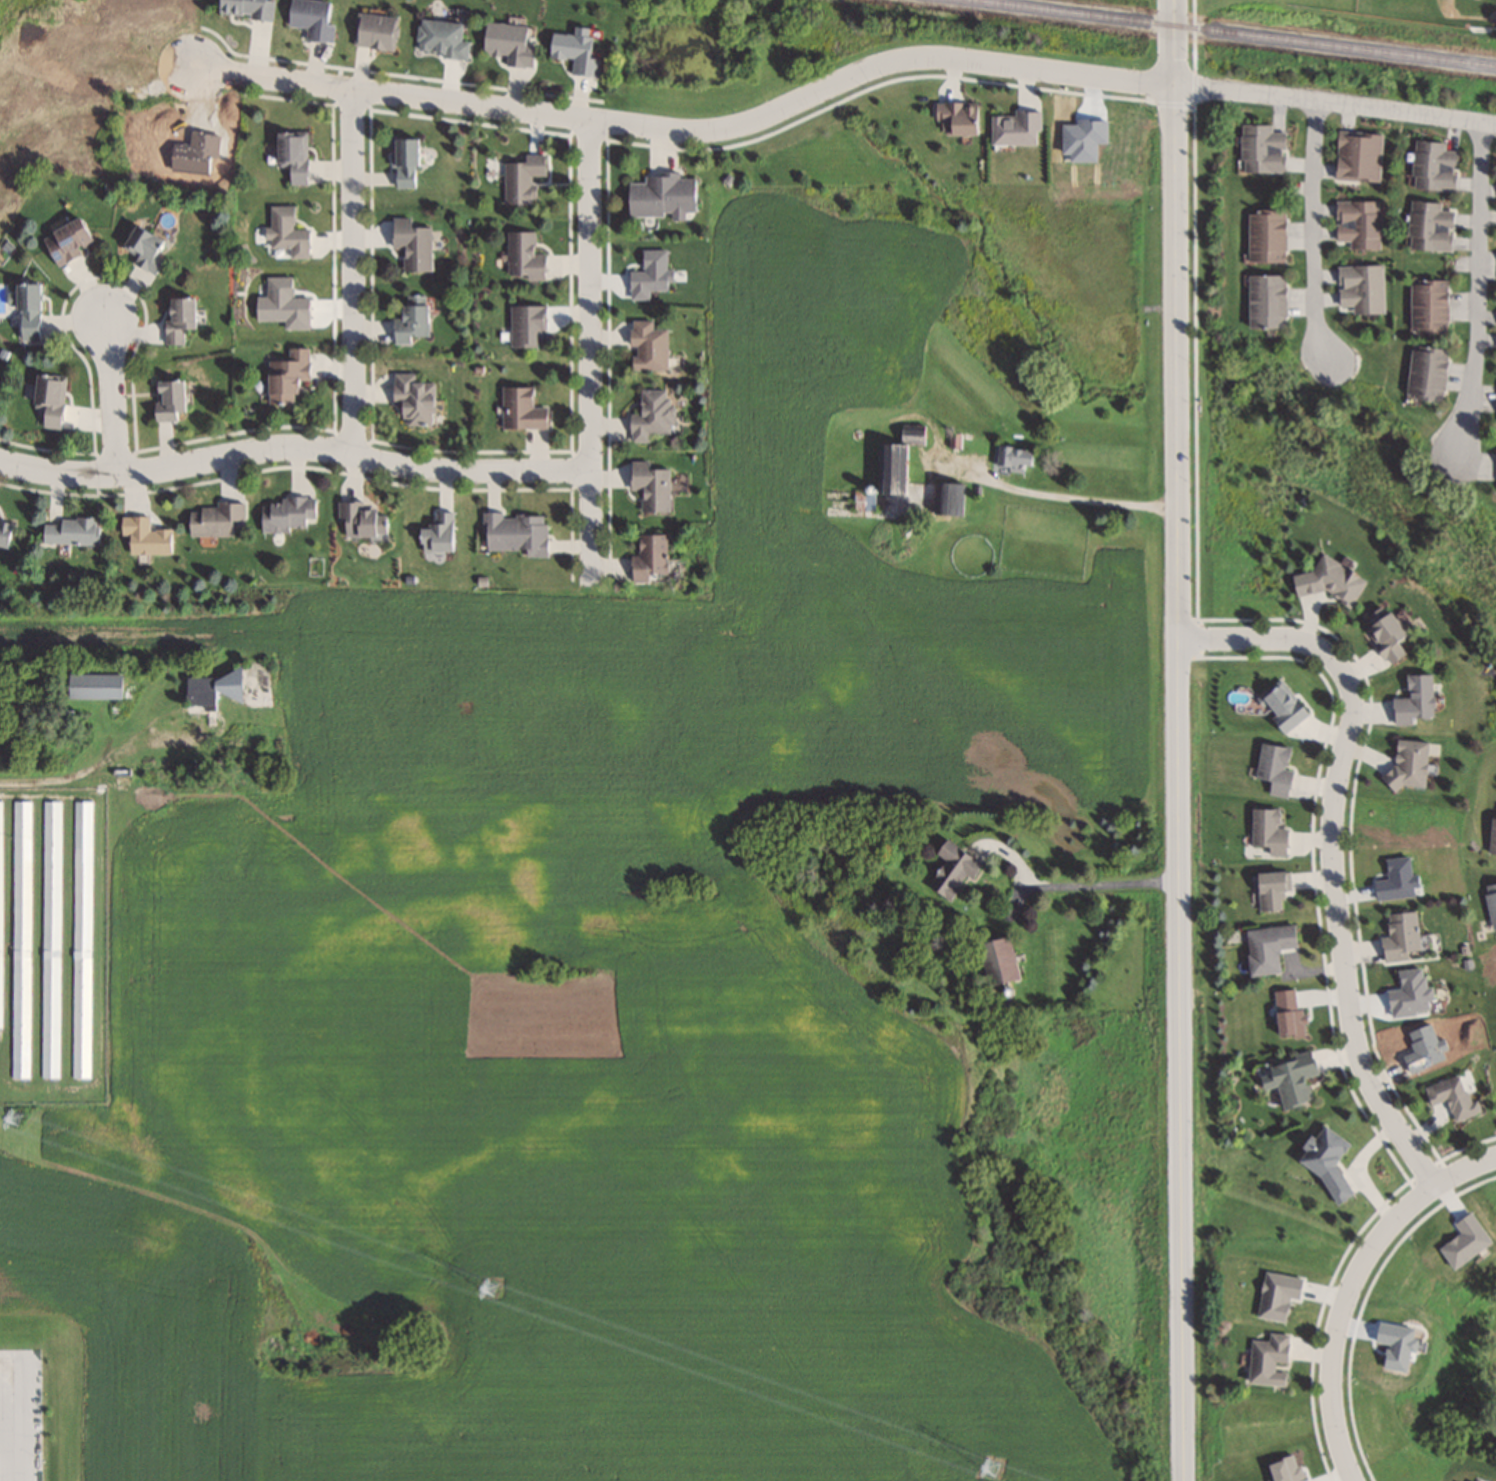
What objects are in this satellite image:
building: (243, 8)
park: (1403, 11)
park: (1434, 11)
building: (310, 18)
building: (373, 32)
building: (439, 39)
building: (507, 43)
building: (574, 50)
road: (1335, 102)
building: (952, 117)
building: (1012, 127)
road: (691, 130)
building: (1260, 148)
building: (290, 155)
building: (1356, 155)
building: (402, 162)
building: (1432, 165)
building: (521, 177)
building: (659, 196)
building: (1357, 224)
building: (1428, 225)
building: (284, 231)
road: (1314, 231)
building: (1264, 235)
building: (63, 239)
building: (409, 243)
building: (142, 248)
building: (521, 255)
road: (353, 270)
road: (1478, 286)
building: (1359, 288)
building: (1265, 301)
building: (1427, 306)
building: (26, 310)
building: (176, 318)
building: (411, 318)
building: (525, 325)
building: (645, 345)
road: (591, 355)
building: (1425, 372)
building: (283, 375)
building: (46, 398)
building: (166, 398)
road: (111, 399)
building: (411, 399)
building: (520, 409)
building: (649, 415)
road: (293, 447)
building: (1009, 459)
building: (886, 467)
building: (648, 485)
building: (287, 514)
building: (213, 519)
building: (360, 519)
building: (69, 531)
building: (514, 532)
building: (5, 533)
building: (437, 533)
building: (143, 536)
building: (647, 558)
building: (1330, 580)
building: (1382, 634)
building: (93, 685)
building: (1412, 699)
building: (1281, 704)
road: (1179, 740)
building: (1407, 762)
building: (1273, 767)
building: (1266, 830)
building: (1491, 837)
road: (1332, 851)
building: (949, 869)
building: (1268, 890)
building: (1398, 935)
building: (20, 938)
building: (50, 938)
building: (81, 938)
building: (1266, 947)
building: (993, 960)
building: (1288, 1078)
building: (1449, 1096)
power tower: (9, 1117)
building: (1323, 1161)
power tower: (486, 1287)
road: (1350, 1287)
building: (1265, 1359)
road: (4, 1442)
power tower: (987, 1466)

